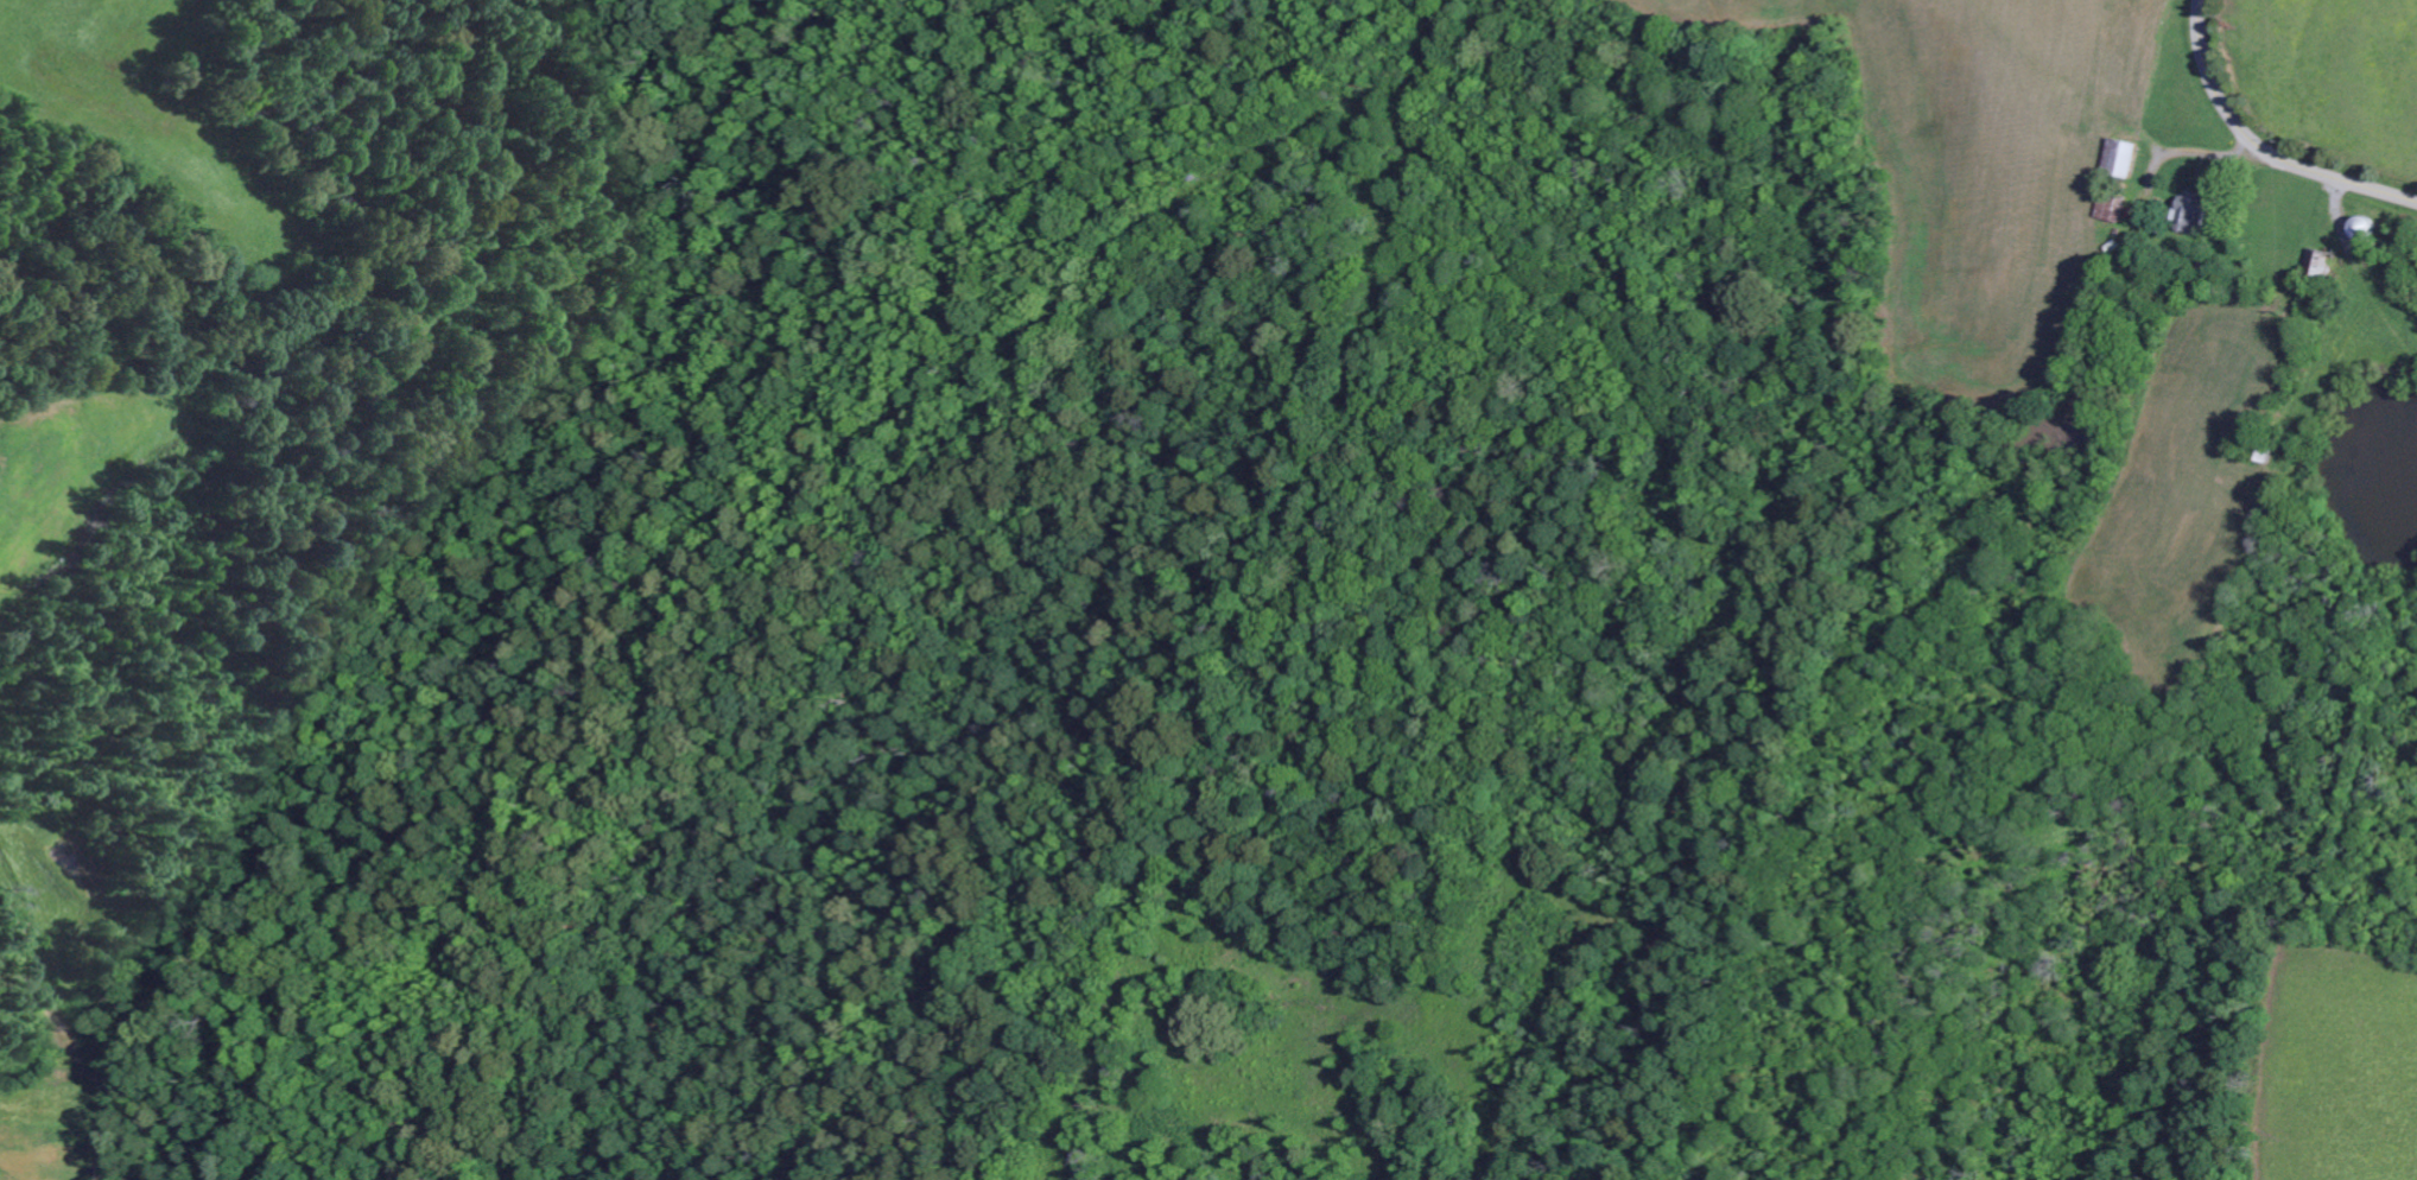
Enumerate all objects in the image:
road: (2263, 145)
building: (2124, 157)
building: (2194, 211)

